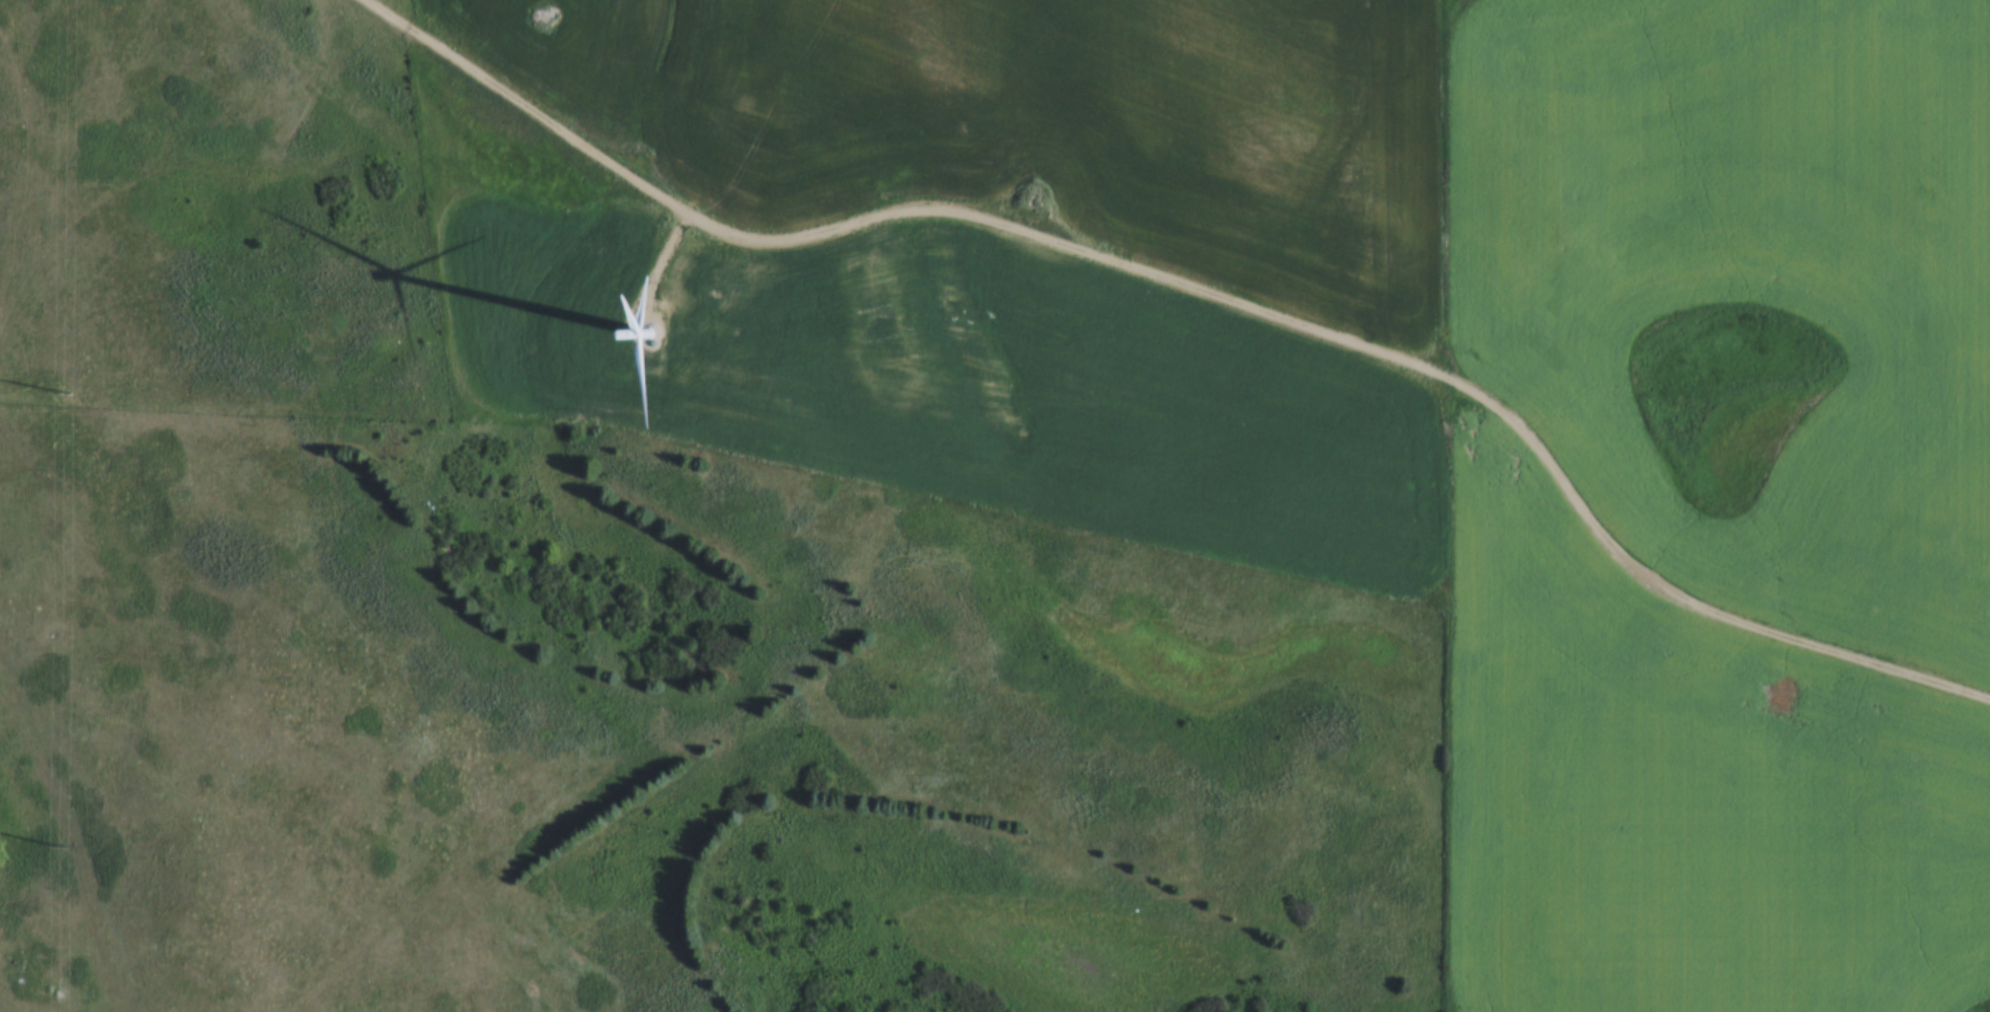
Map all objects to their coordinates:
road: (1195, 310)
wind turbine: (646, 335)

